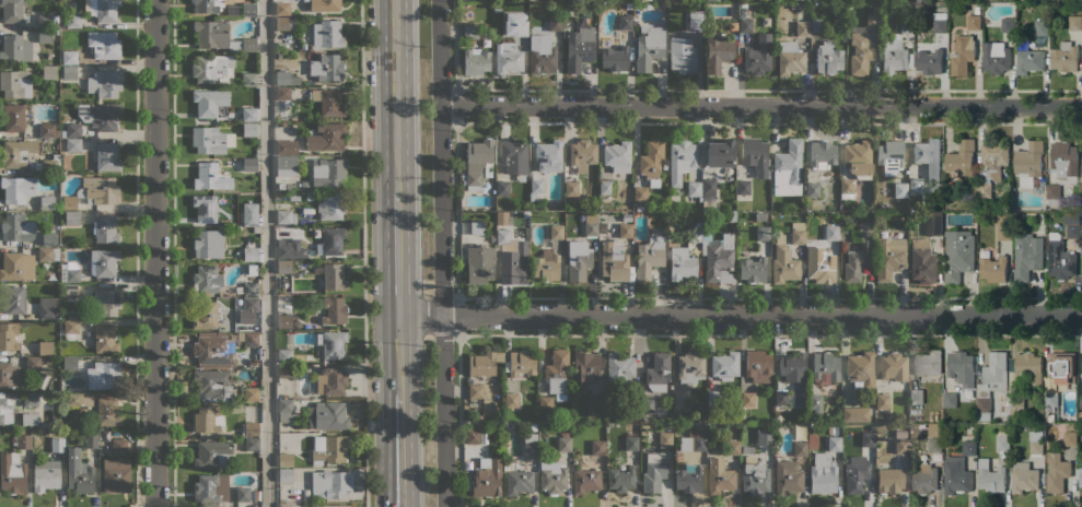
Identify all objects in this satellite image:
building: (644, 0)
building: (917, 0)
building: (324, 4)
building: (207, 5)
building: (629, 5)
building: (283, 9)
building: (908, 9)
building: (104, 10)
building: (242, 10)
building: (977, 10)
building: (12, 11)
building: (801, 13)
building: (47, 20)
building: (624, 20)
building: (73, 21)
building: (696, 21)
building: (871, 21)
building: (974, 22)
building: (62, 23)
building: (552, 23)
building: (1074, 23)
building: (283, 24)
building: (817, 24)
building: (517, 25)
building: (744, 25)
building: (940, 25)
building: (1008, 25)
building: (906, 26)
building: (1042, 27)
building: (803, 28)
building: (470, 32)
building: (211, 33)
building: (327, 34)
building: (45, 36)
building: (248, 44)
building: (104, 45)
building: (234, 46)
building: (649, 46)
building: (15, 48)
building: (579, 48)
building: (718, 51)
building: (860, 54)
building: (542, 55)
building: (758, 55)
building: (962, 55)
building: (682, 56)
building: (69, 57)
building: (895, 57)
building: (996, 57)
building: (509, 58)
building: (790, 58)
building: (828, 58)
building: (1064, 58)
building: (615, 59)
building: (929, 60)
building: (476, 61)
building: (1028, 61)
building: (327, 67)
building: (211, 68)
building: (49, 72)
building: (69, 72)
building: (282, 78)
building: (248, 79)
building: (294, 80)
building: (104, 83)
building: (15, 84)
building: (282, 93)
road: (394, 96)
building: (328, 102)
building: (206, 103)
road: (760, 105)
building: (249, 115)
building: (104, 116)
building: (13, 117)
building: (281, 123)
building: (248, 129)
building: (47, 130)
building: (72, 130)
building: (327, 137)
building: (211, 140)
building: (73, 145)
building: (287, 146)
building: (753, 152)
building: (927, 152)
building: (16, 153)
building: (582, 154)
building: (720, 154)
building: (822, 154)
building: (549, 155)
building: (107, 156)
building: (514, 156)
building: (617, 156)
building: (889, 156)
building: (858, 157)
building: (961, 157)
building: (680, 160)
building: (478, 162)
building: (652, 162)
building: (1064, 162)
building: (1029, 164)
building: (249, 165)
building: (49, 166)
building: (286, 166)
building: (990, 166)
building: (788, 169)
building: (327, 172)
building: (206, 175)
building: (1081, 179)
building: (1081, 181)
building: (304, 185)
building: (916, 185)
building: (606, 187)
building: (743, 187)
building: (503, 188)
building: (571, 188)
building: (846, 188)
building: (16, 189)
building: (536, 189)
building: (693, 189)
building: (735, 189)
building: (812, 189)
building: (98, 190)
building: (709, 190)
building: (899, 190)
building: (1004, 190)
building: (640, 193)
building: (277, 194)
building: (310, 194)
building: (1052, 194)
building: (47, 202)
building: (68, 202)
building: (504, 204)
building: (331, 205)
building: (519, 205)
building: (972, 207)
building: (205, 209)
building: (640, 209)
building: (710, 214)
building: (1017, 215)
building: (286, 216)
building: (626, 216)
building: (731, 216)
building: (760, 216)
building: (877, 216)
building: (72, 217)
building: (871, 217)
building: (251, 219)
building: (507, 219)
building: (521, 221)
building: (226, 222)
building: (591, 224)
building: (935, 224)
building: (1002, 225)
building: (1071, 225)
building: (16, 227)
building: (477, 227)
building: (866, 228)
building: (105, 229)
building: (625, 231)
building: (557, 232)
building: (763, 233)
building: (796, 233)
building: (831, 233)
building: (694, 234)
building: (49, 235)
building: (502, 236)
building: (330, 240)
building: (209, 244)
building: (291, 249)
building: (48, 253)
road: (155, 253)
road: (173, 253)
building: (249, 253)
road: (266, 253)
road: (363, 253)
road: (396, 253)
road: (441, 253)
building: (958, 255)
building: (649, 256)
building: (718, 257)
building: (1025, 257)
building: (889, 259)
building: (1059, 259)
building: (614, 260)
building: (104, 261)
building: (579, 262)
building: (783, 262)
building: (923, 262)
building: (480, 263)
building: (682, 263)
building: (283, 266)
building: (853, 266)
building: (18, 267)
building: (546, 267)
building: (514, 268)
building: (821, 268)
building: (753, 269)
building: (993, 270)
building: (70, 273)
building: (334, 276)
building: (207, 279)
building: (251, 288)
building: (70, 291)
building: (13, 298)
building: (106, 302)
building: (251, 305)
building: (48, 307)
building: (334, 310)
building: (206, 315)
road: (738, 315)
building: (284, 321)
building: (296, 322)
building: (72, 329)
building: (9, 335)
building: (248, 338)
building: (105, 340)
building: (333, 344)
building: (45, 347)
building: (214, 350)
road: (397, 354)
building: (284, 355)
building: (1081, 361)
building: (35, 362)
building: (70, 363)
building: (484, 363)
building: (928, 363)
building: (521, 364)
building: (959, 364)
building: (725, 365)
building: (793, 365)
building: (758, 366)
building: (893, 366)
building: (585, 367)
building: (690, 367)
building: (825, 367)
building: (1027, 368)
building: (1062, 368)
building: (860, 369)
building: (284, 370)
building: (618, 372)
building: (658, 372)
building: (557, 373)
building: (996, 373)
building: (9, 376)
building: (104, 376)
building: (330, 380)
building: (212, 384)
building: (476, 391)
building: (251, 393)
building: (714, 397)
building: (916, 397)
building: (781, 398)
building: (31, 399)
building: (77, 399)
building: (631, 399)
building: (747, 399)
building: (1050, 399)
building: (512, 400)
building: (679, 400)
building: (950, 400)
building: (597, 401)
building: (815, 401)
building: (882, 401)
building: (1080, 401)
building: (545, 405)
building: (647, 405)
building: (1017, 406)
building: (984, 409)
building: (284, 410)
building: (5, 411)
building: (107, 412)
building: (856, 414)
building: (1080, 415)
building: (327, 416)
building: (478, 417)
building: (30, 418)
building: (206, 418)
building: (67, 424)
building: (777, 426)
building: (534, 427)
building: (249, 428)
building: (102, 432)
building: (696, 433)
building: (900, 434)
building: (473, 436)
building: (765, 436)
building: (24, 438)
building: (1070, 438)
building: (665, 439)
building: (868, 439)
building: (57, 440)
building: (91, 440)
building: (800, 440)
building: (813, 440)
building: (630, 443)
building: (1002, 443)
building: (1036, 443)
building: (252, 444)
building: (565, 444)
building: (686, 444)
building: (699, 444)
building: (834, 444)
building: (119, 445)
building: (530, 445)
building: (935, 445)
building: (901, 446)
building: (596, 447)
building: (732, 447)
building: (968, 448)
building: (329, 449)
road: (398, 449)
building: (211, 455)
building: (284, 460)
building: (79, 472)
building: (12, 473)
building: (652, 473)
building: (822, 473)
building: (1057, 473)
building: (46, 474)
building: (286, 474)
building: (857, 474)
building: (116, 475)
building: (754, 475)
building: (956, 475)
building: (720, 476)
building: (788, 476)
building: (990, 476)
building: (1081, 476)
building: (487, 477)
building: (517, 477)
building: (552, 477)
building: (1023, 477)
building: (923, 479)
building: (585, 480)
building: (620, 480)
building: (688, 480)
building: (889, 480)
building: (329, 483)
building: (211, 487)
building: (241, 493)
building: (255, 494)
building: (305, 497)
building: (286, 505)
building: (329, 505)

